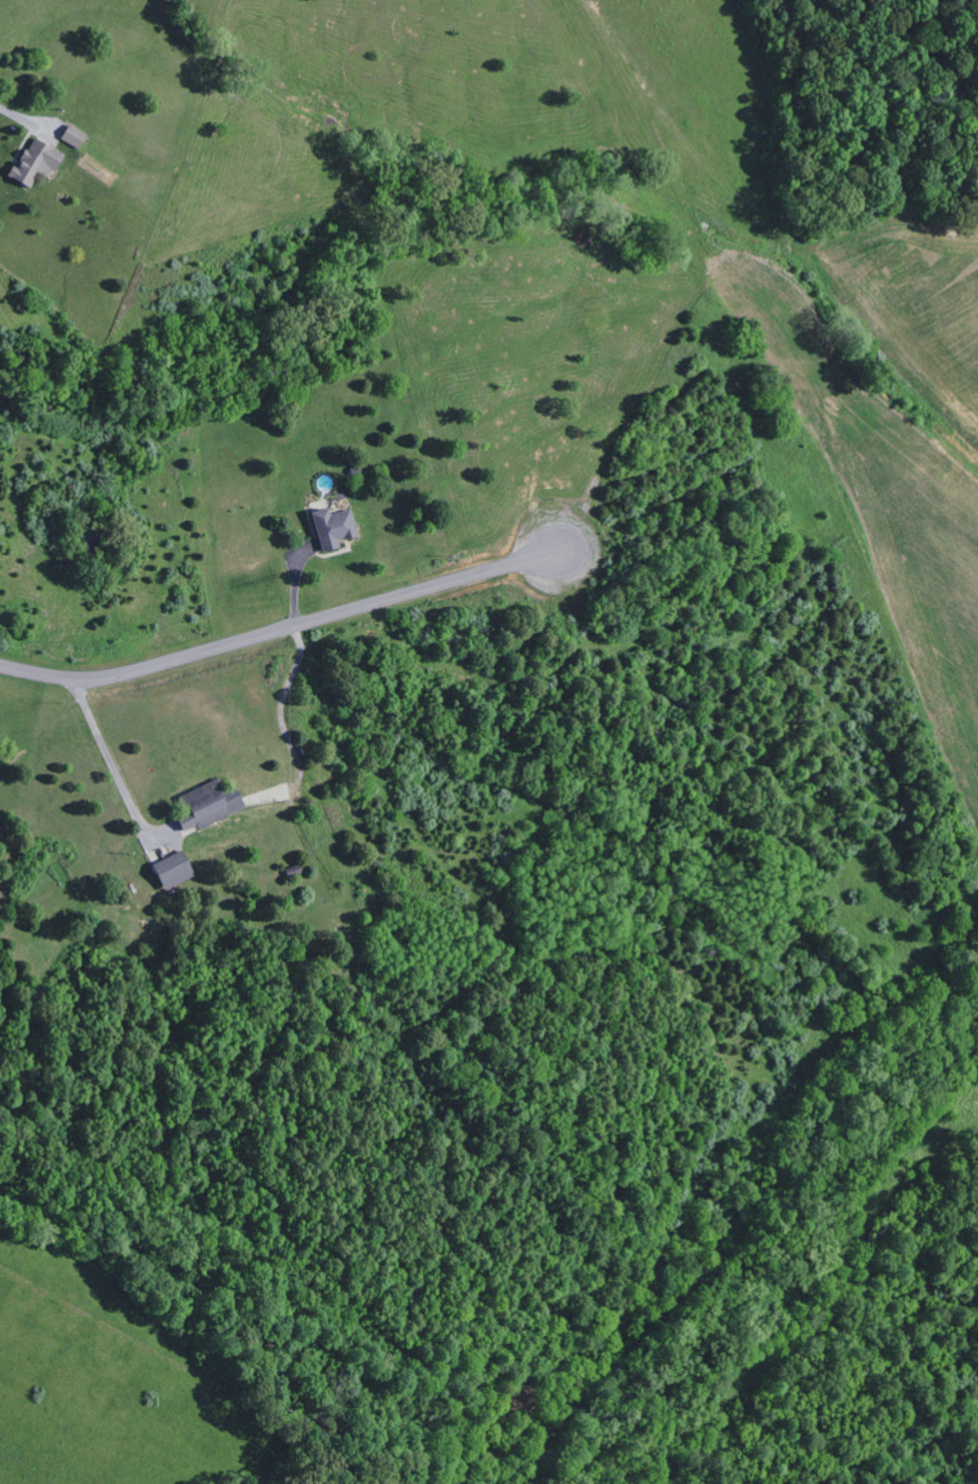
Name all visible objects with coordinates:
building: (76, 137)
building: (39, 162)
building: (337, 528)
road: (282, 631)
road: (110, 762)
building: (212, 805)
building: (177, 870)

